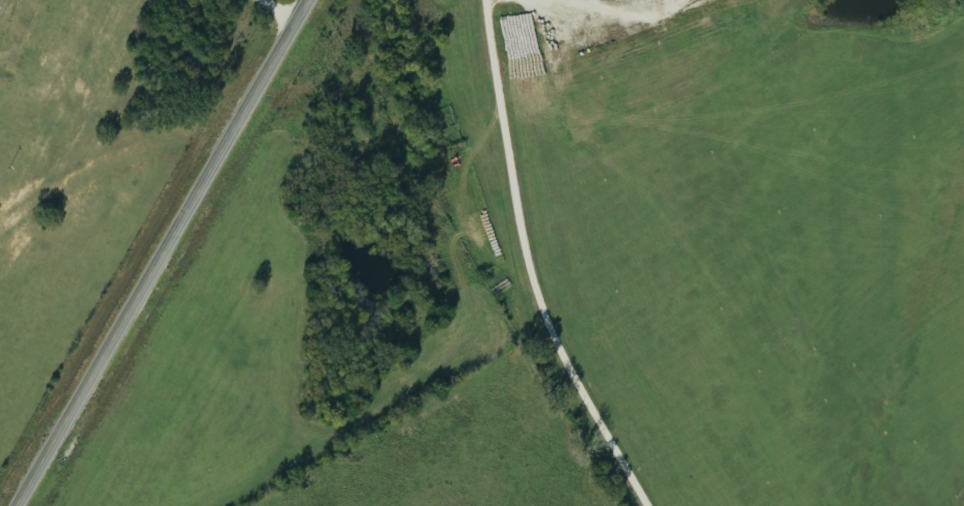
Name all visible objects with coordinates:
road: (160, 253)

